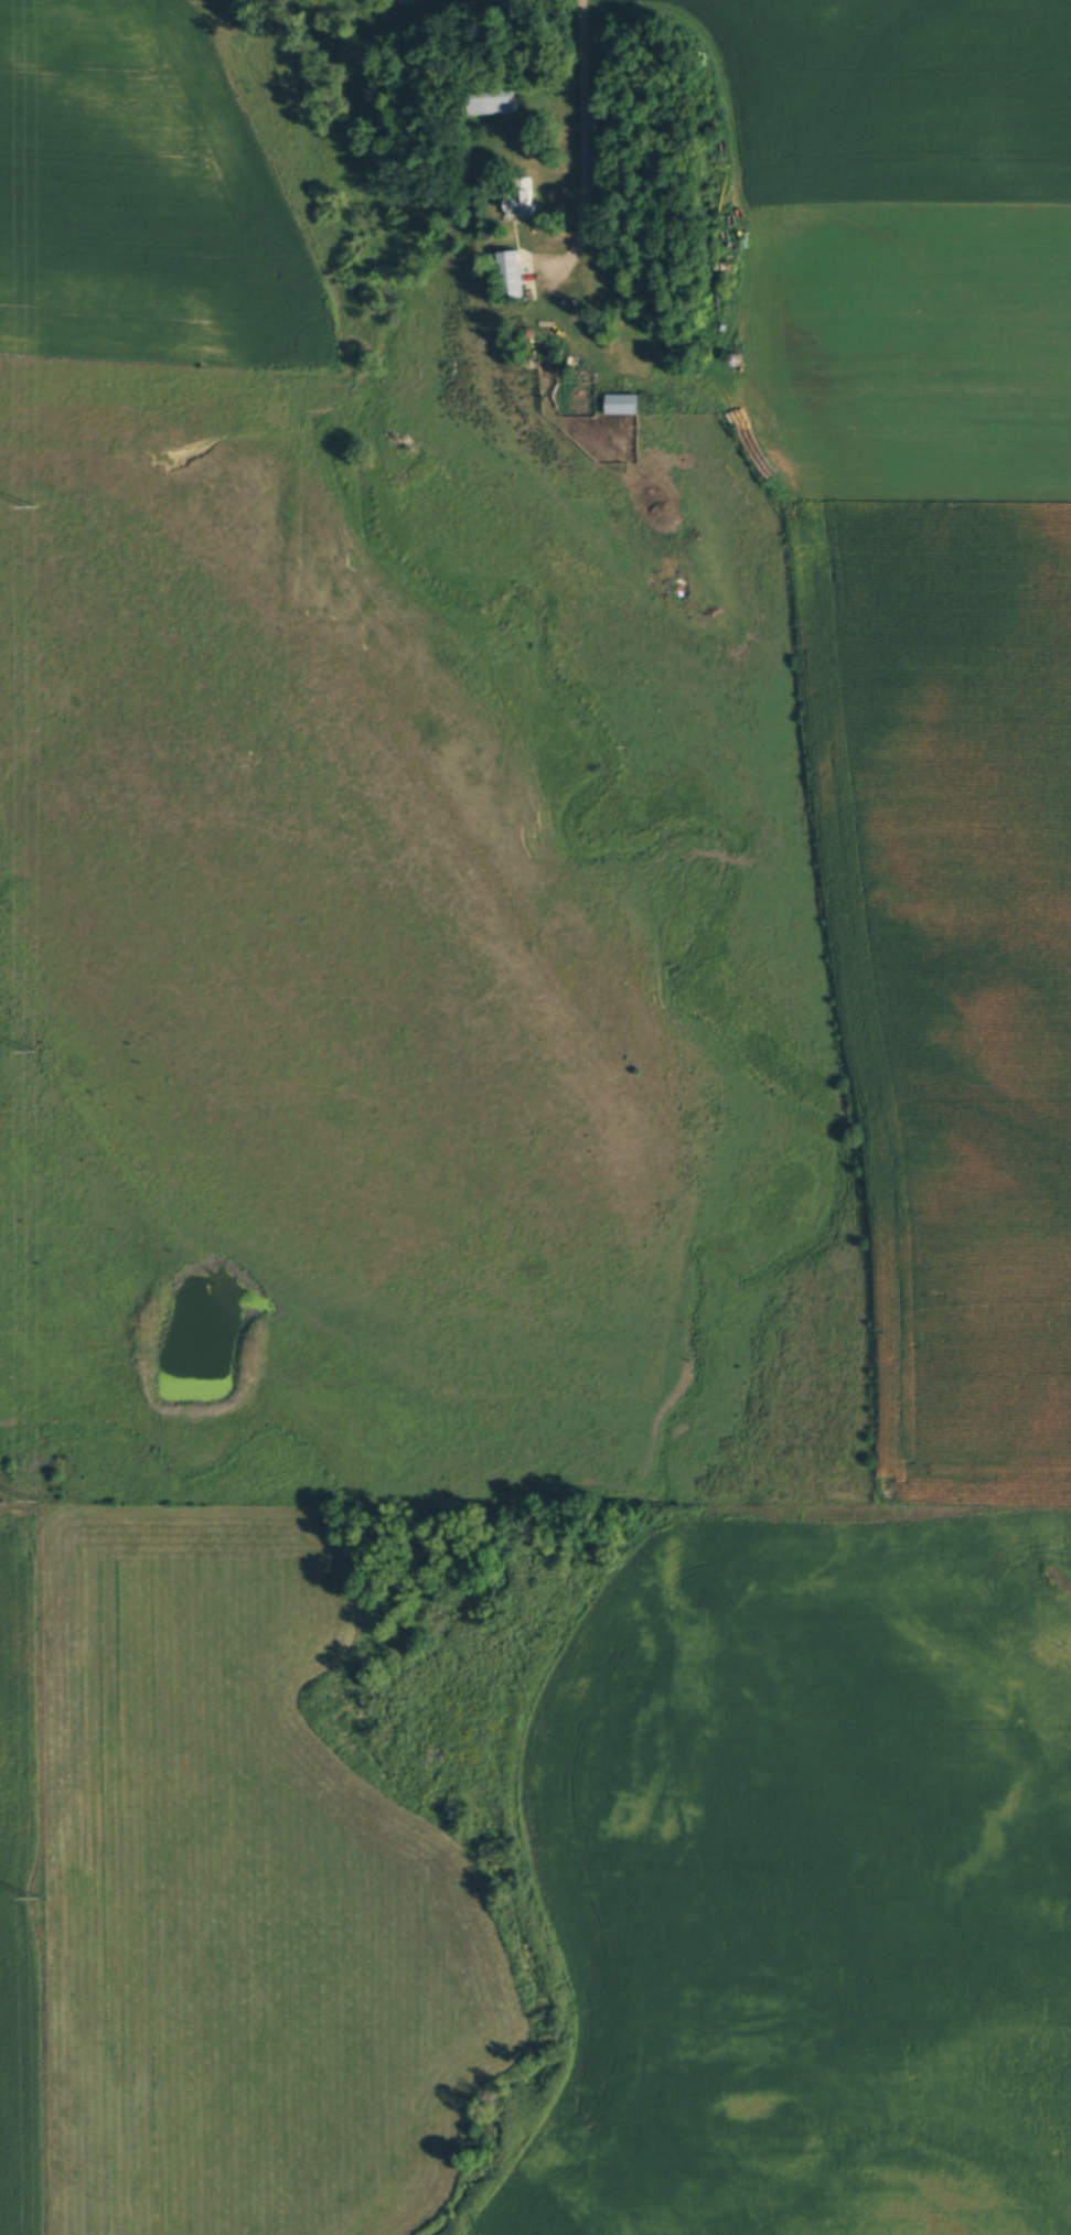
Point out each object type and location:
building: (494, 97)
road: (582, 149)
building: (520, 201)
building: (512, 276)
building: (624, 405)
power tower: (29, 507)
crop: (952, 966)
power tower: (31, 1052)
power tower: (34, 1501)
power tower: (36, 1896)

